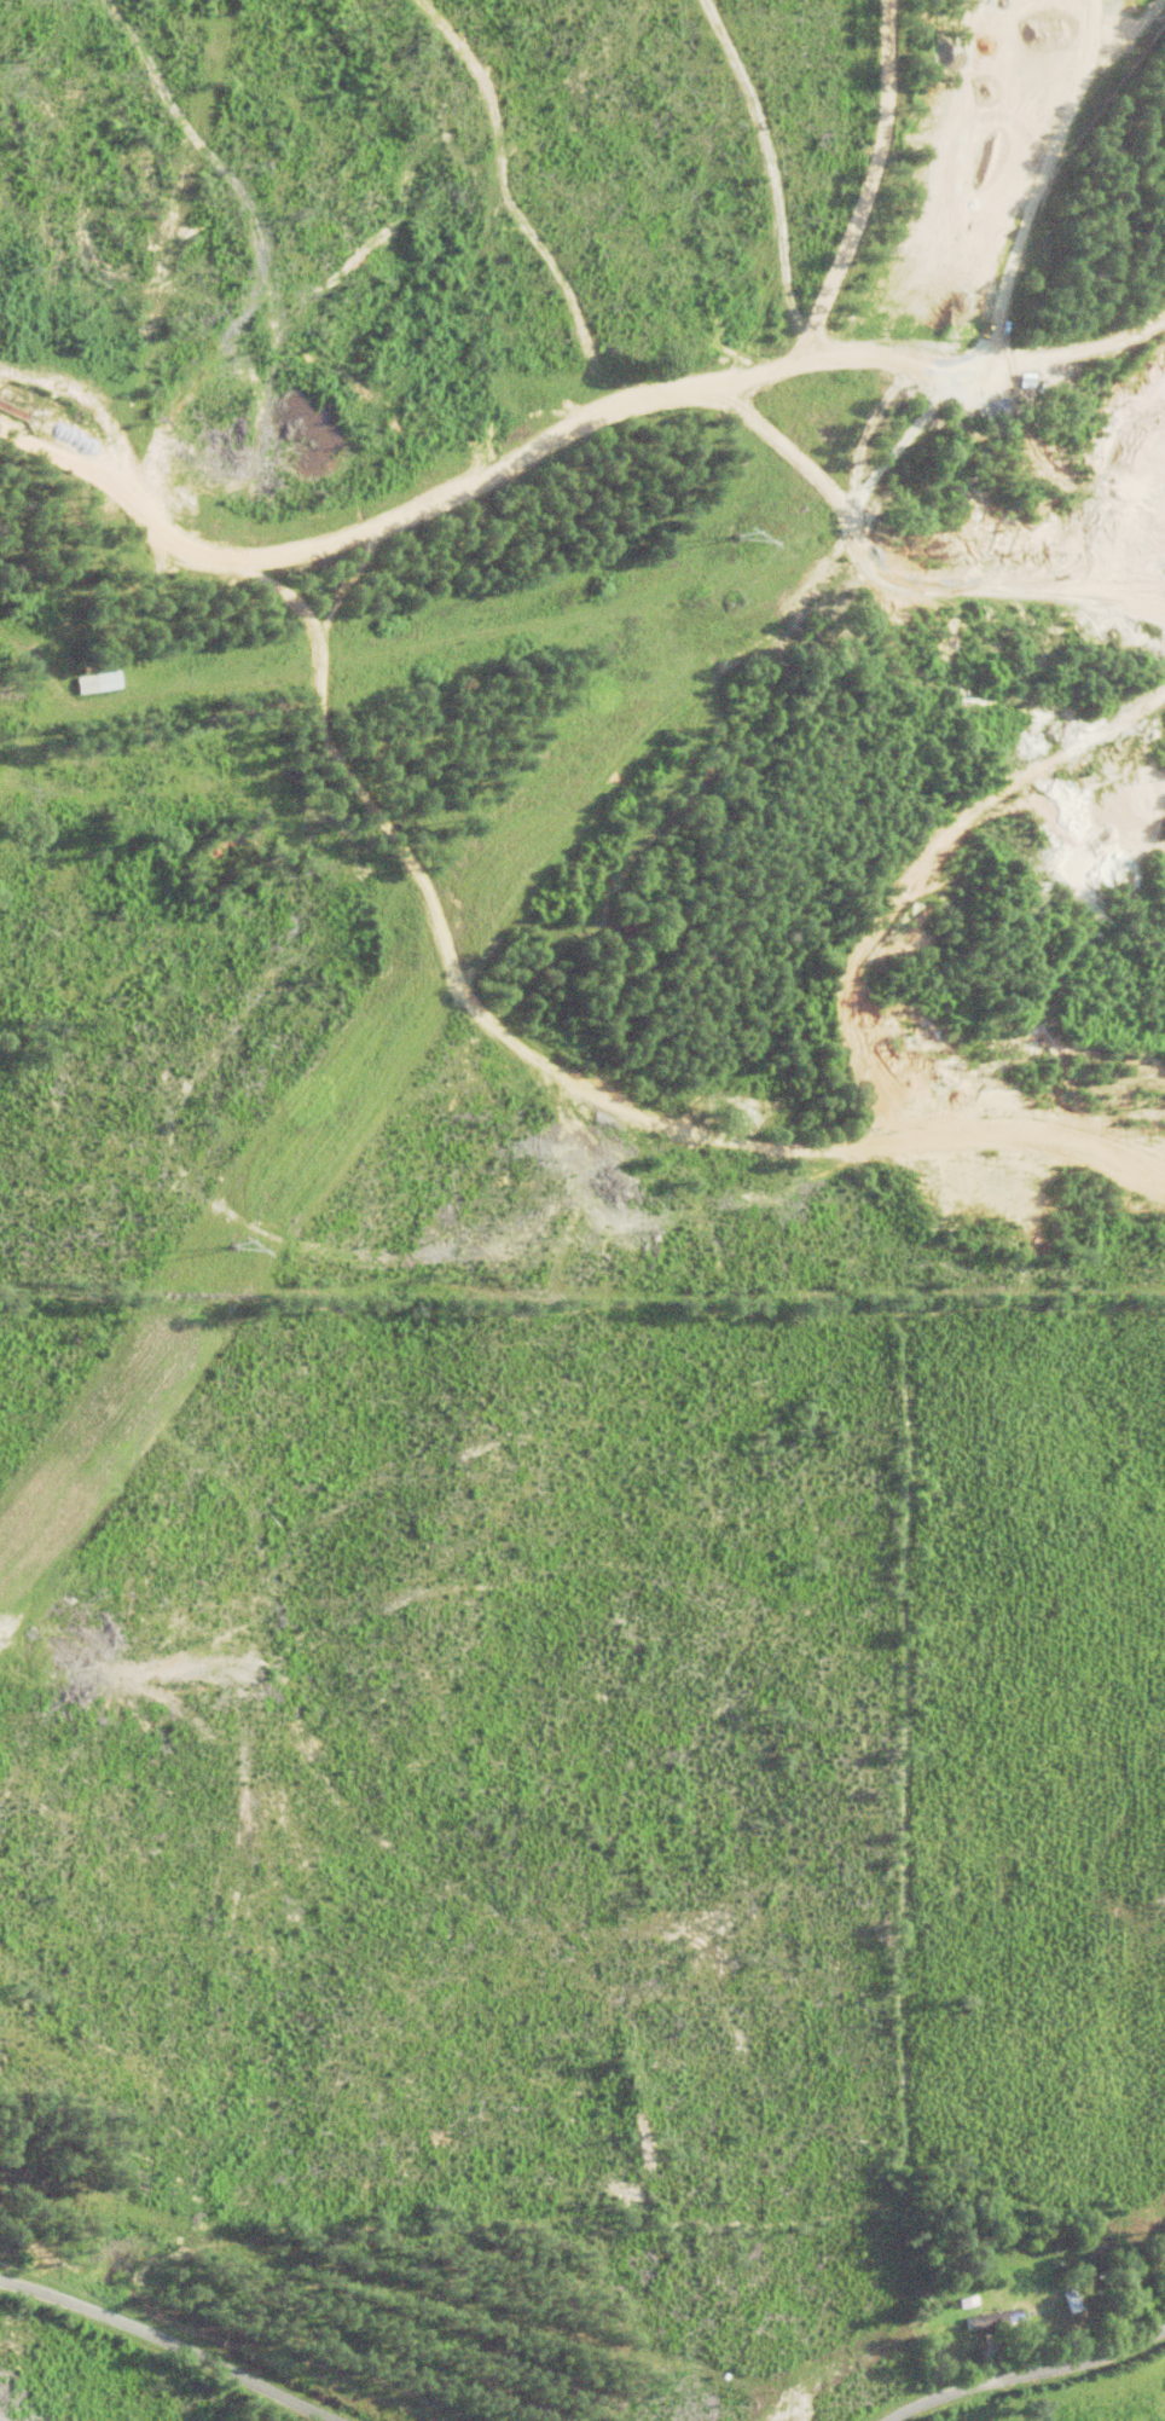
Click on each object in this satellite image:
building: (1016, 378)
power tower: (736, 535)
building: (83, 682)
power tower: (222, 1246)
building: (980, 2318)
road: (166, 2344)
road: (1021, 2371)

